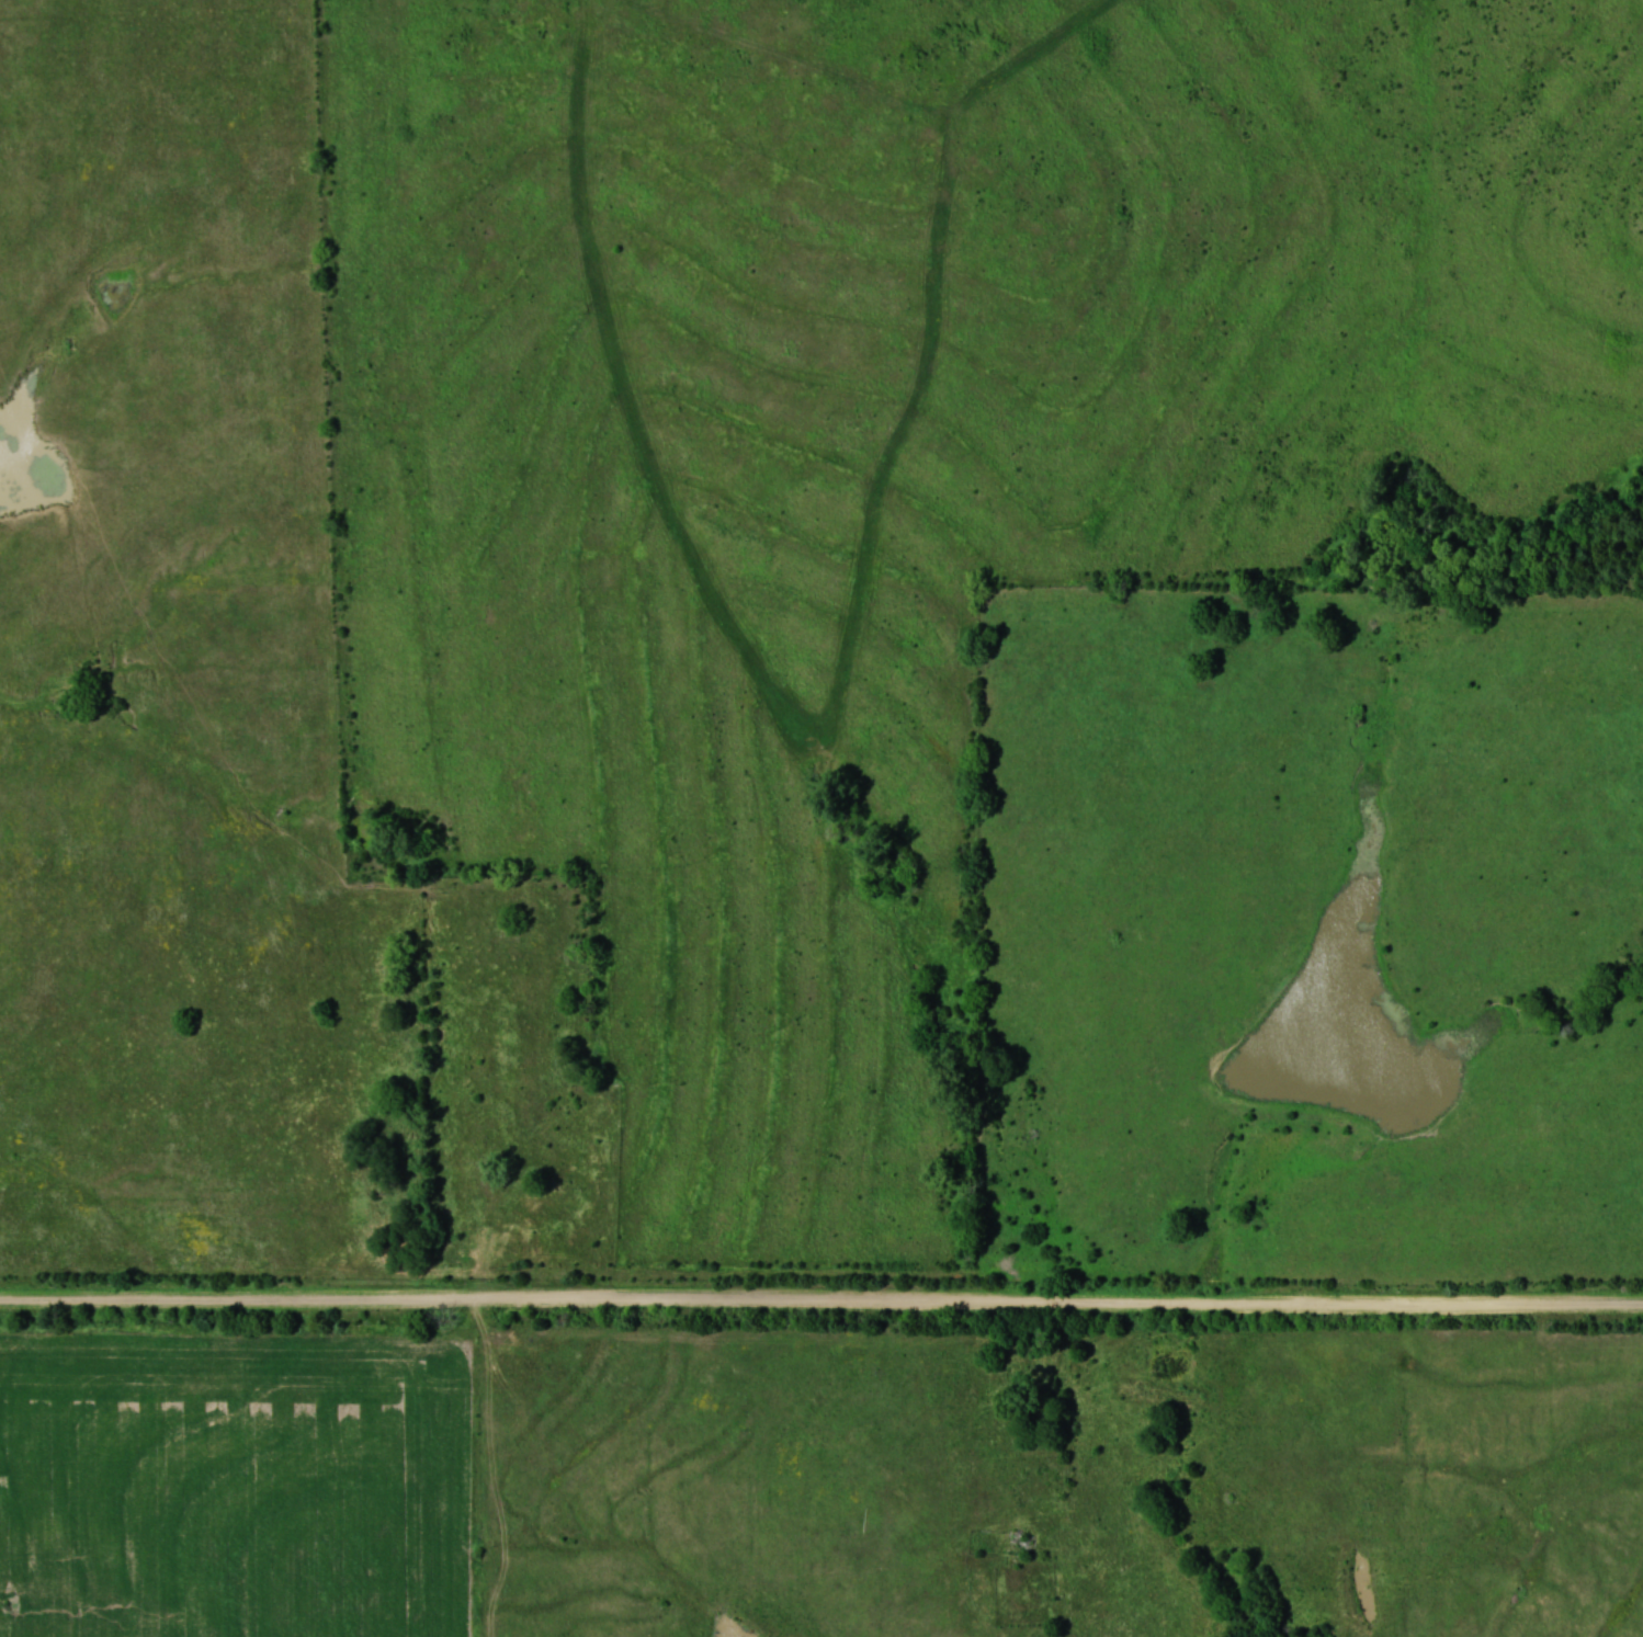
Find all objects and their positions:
road: (821, 1305)

